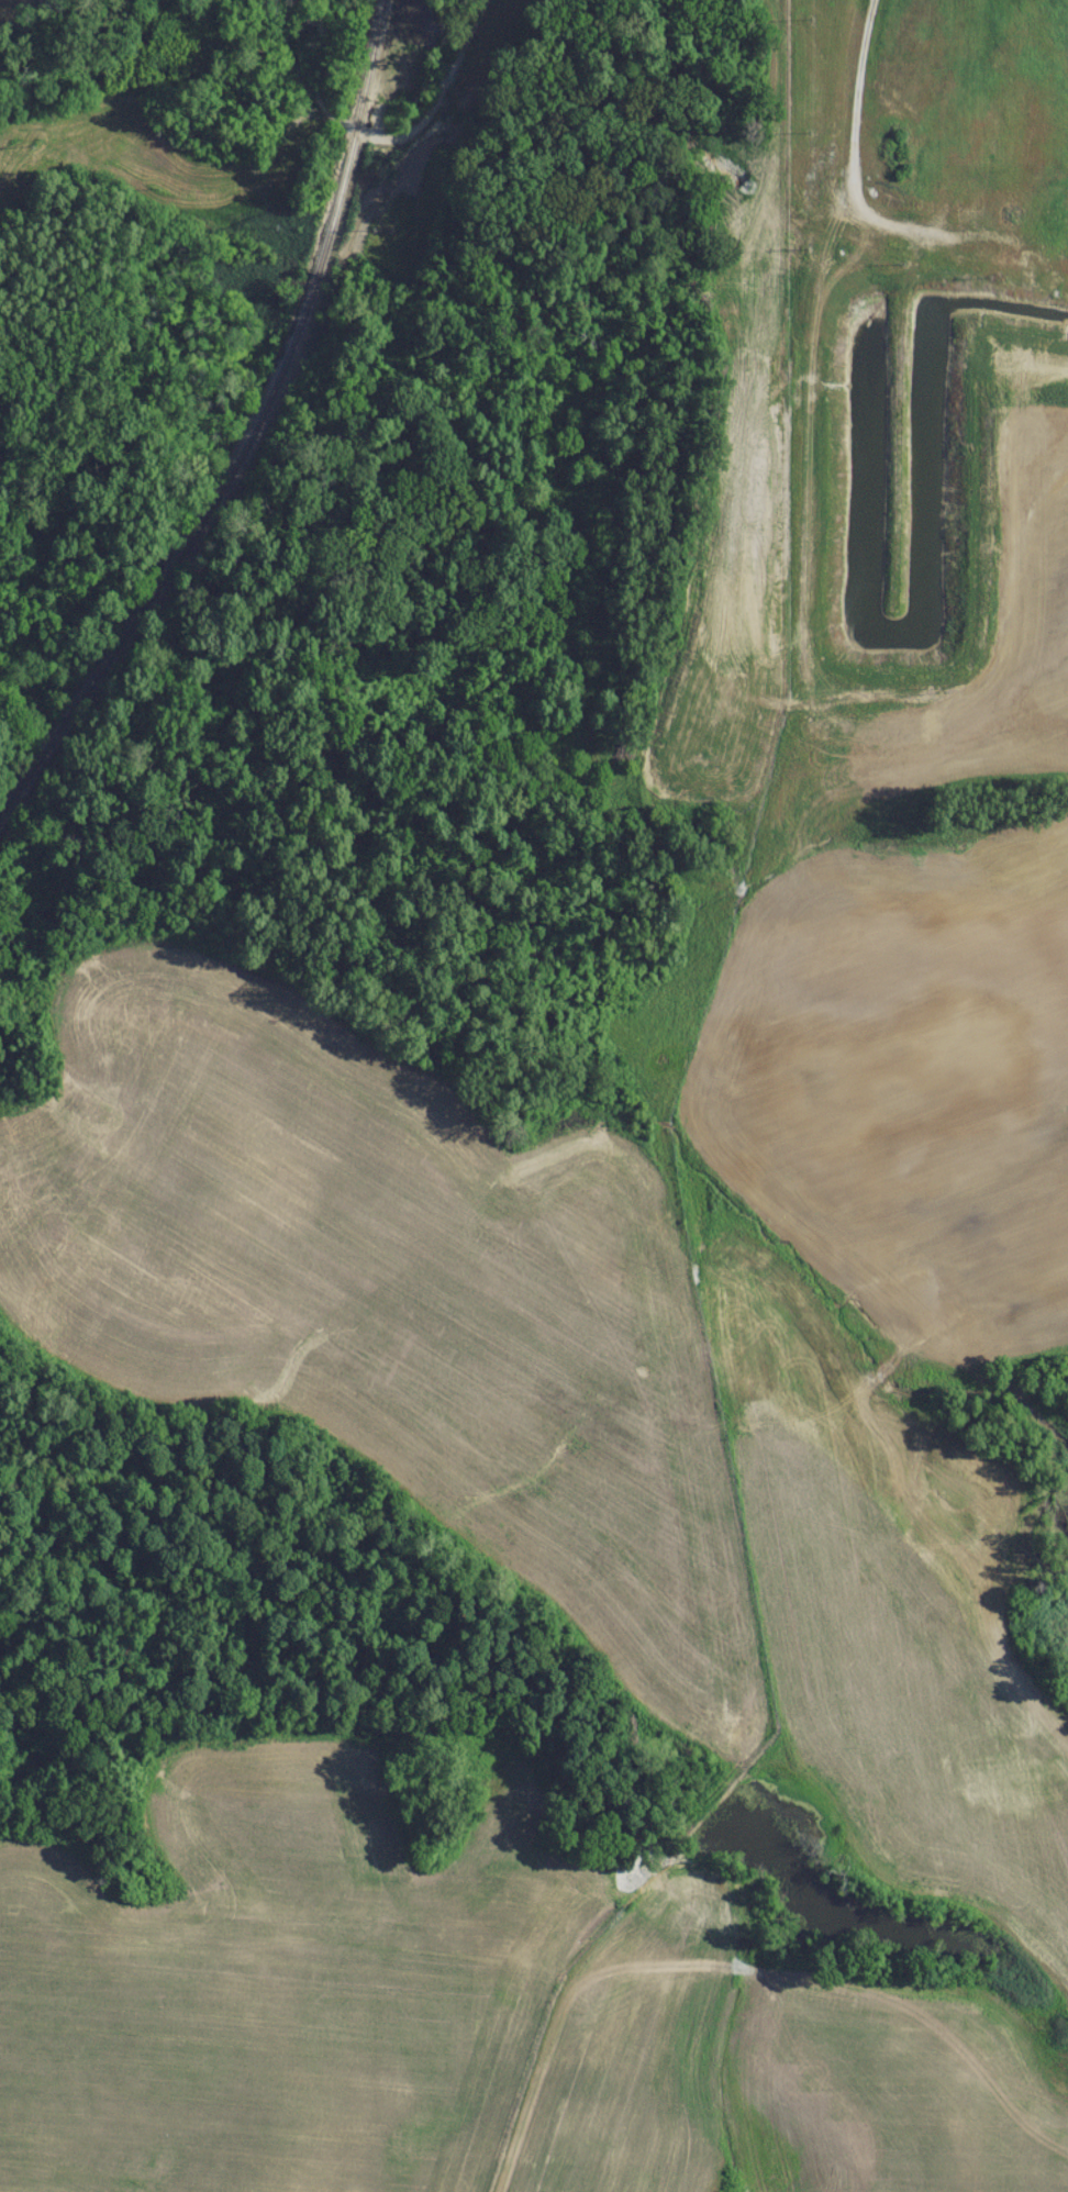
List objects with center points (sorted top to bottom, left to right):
road: (448, 71)
building: (283, 92)
road: (324, 112)
railway: (243, 445)

